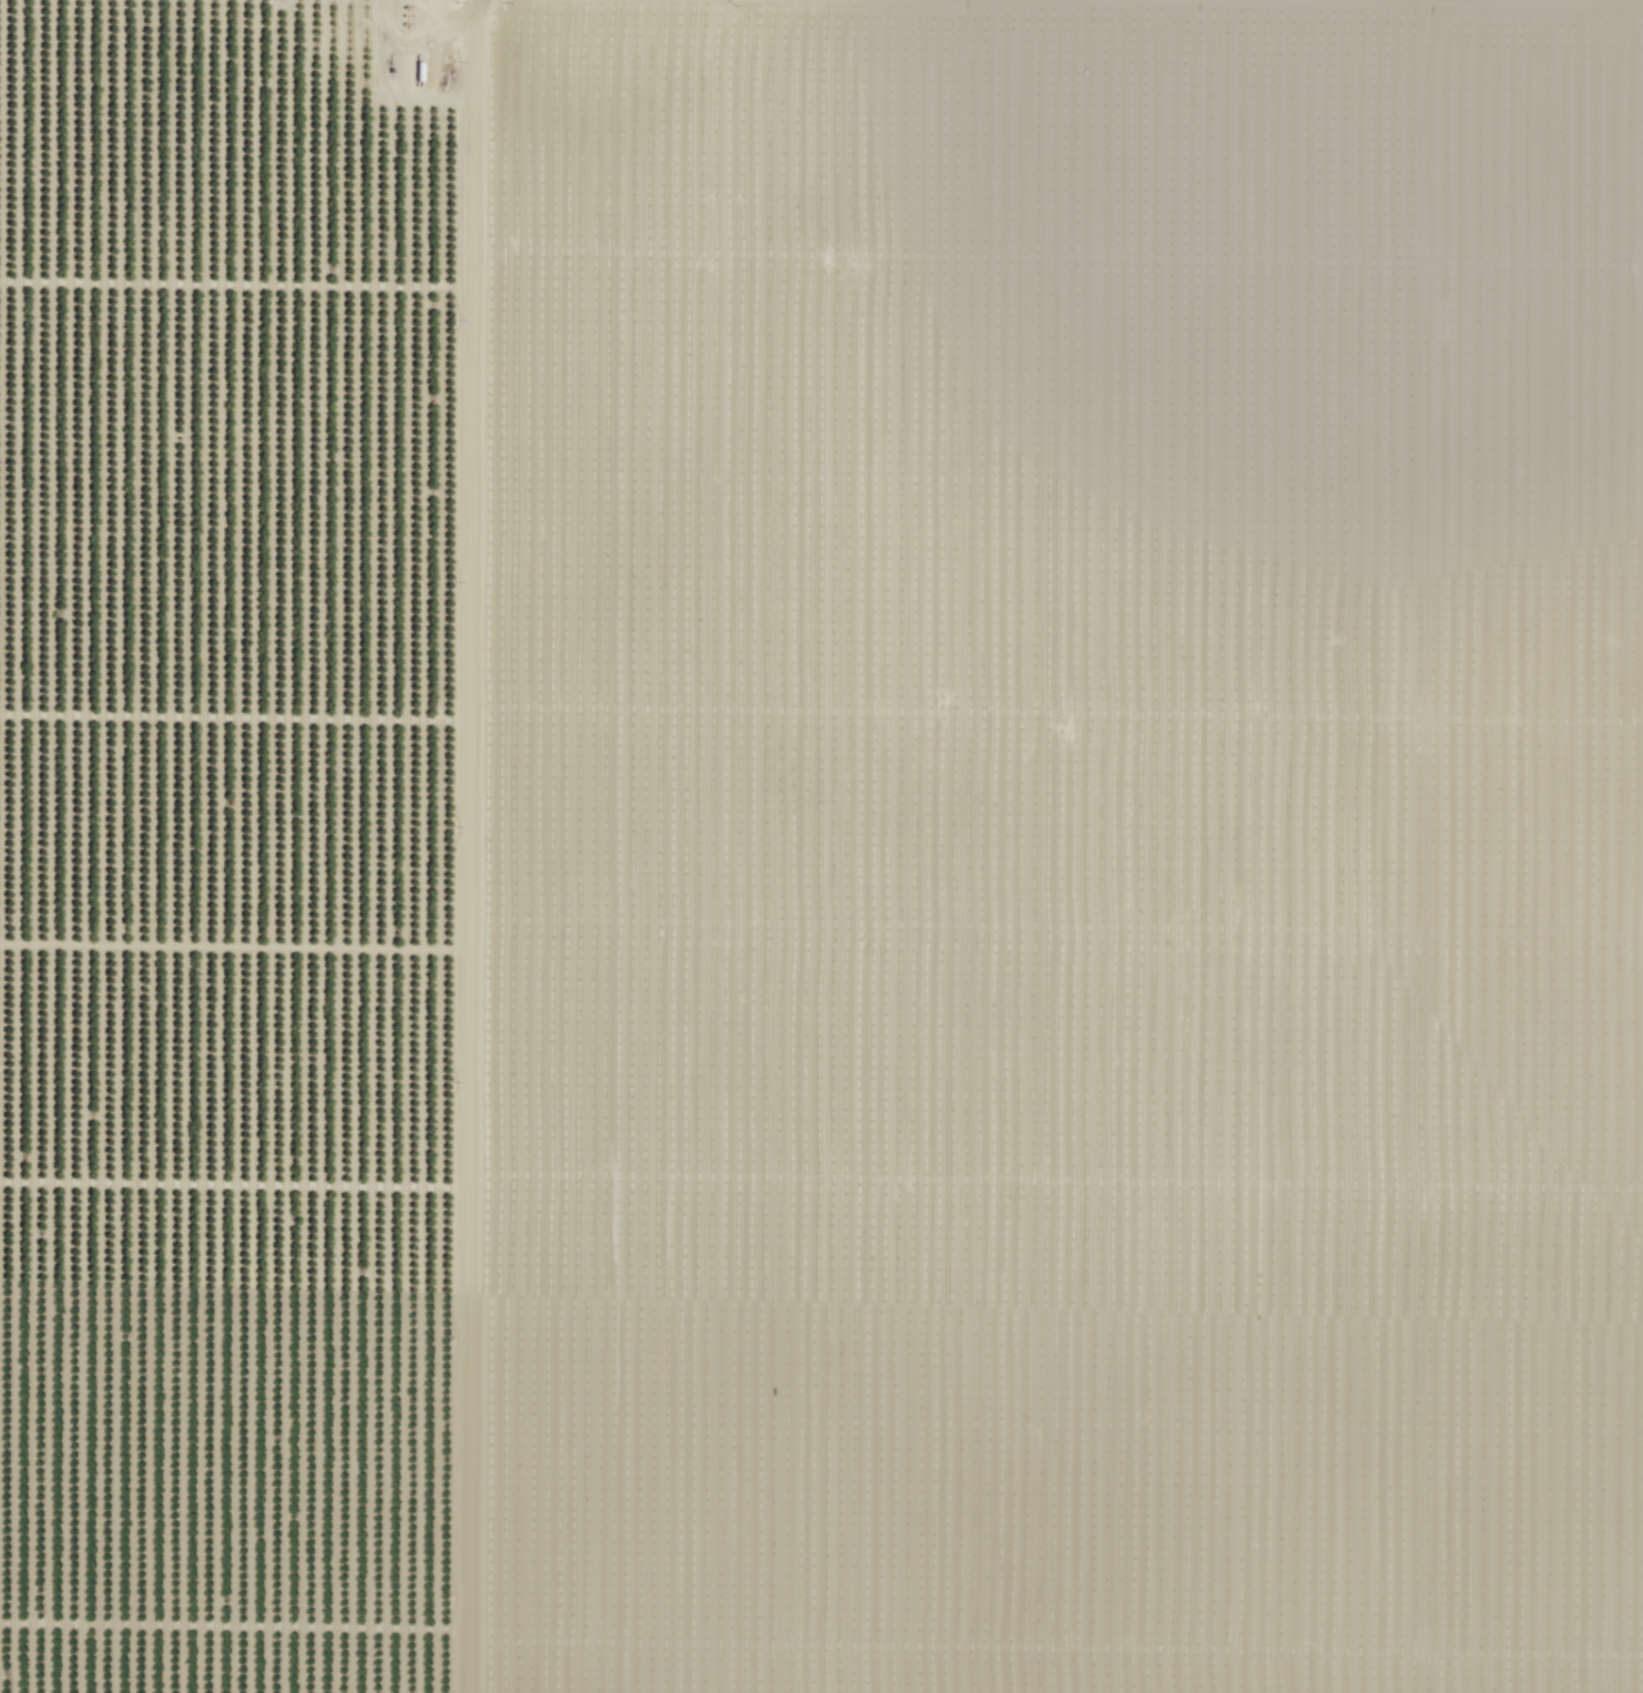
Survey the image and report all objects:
road: (518, 846)

